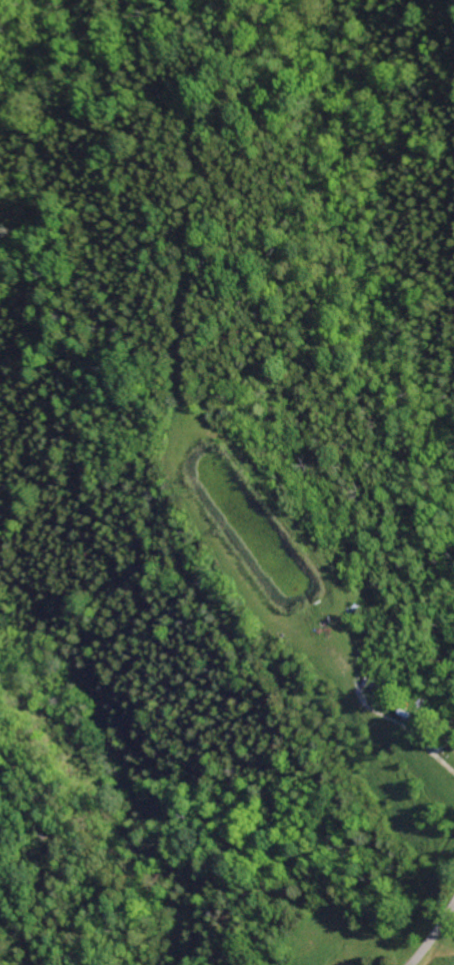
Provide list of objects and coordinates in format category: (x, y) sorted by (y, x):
road: (405, 727)
road: (436, 937)

